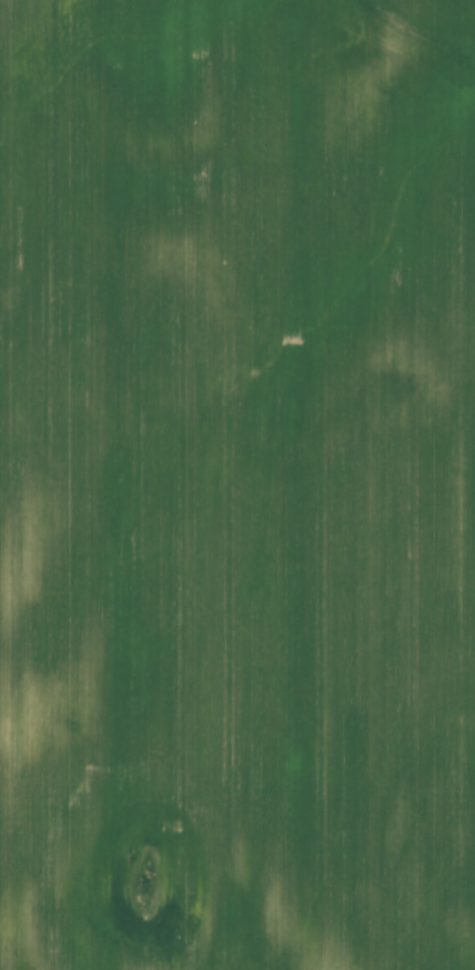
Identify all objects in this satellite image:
road: (449, 12)
road: (208, 696)

